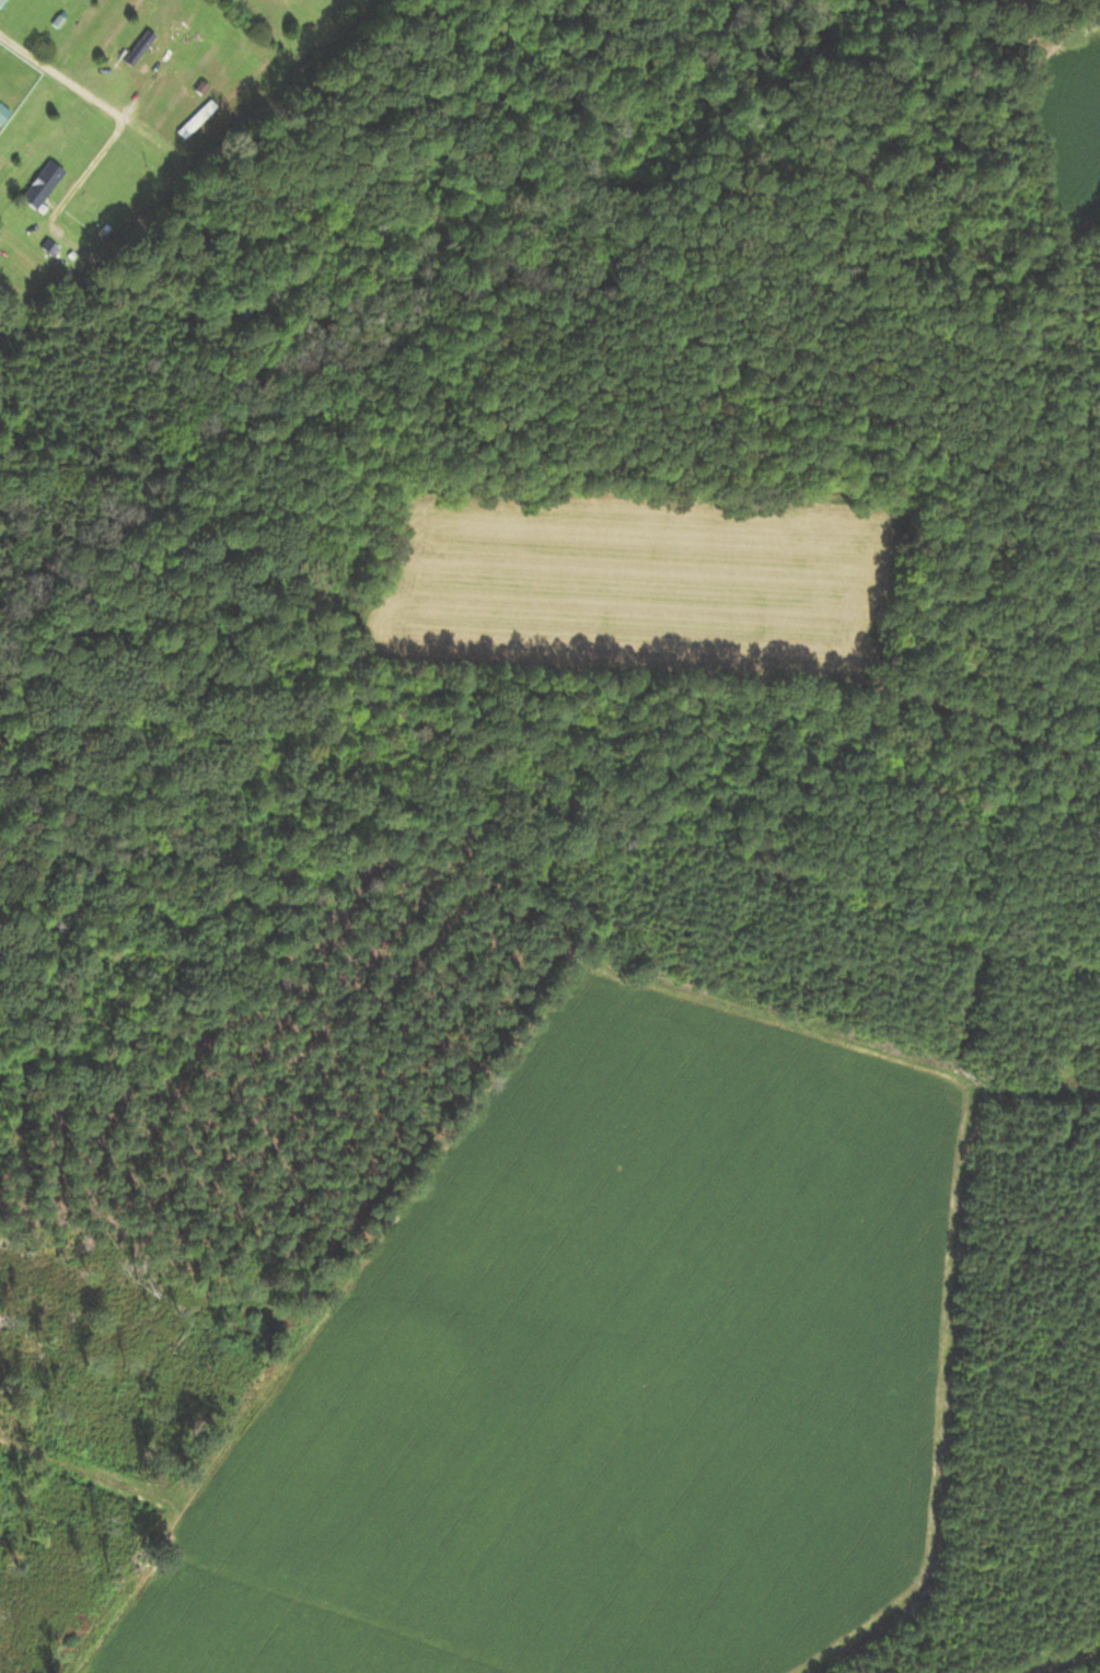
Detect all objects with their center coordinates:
building: (0, 0)
road: (60, 77)
building: (36, 187)
road: (923, 714)
road: (123, 1526)

